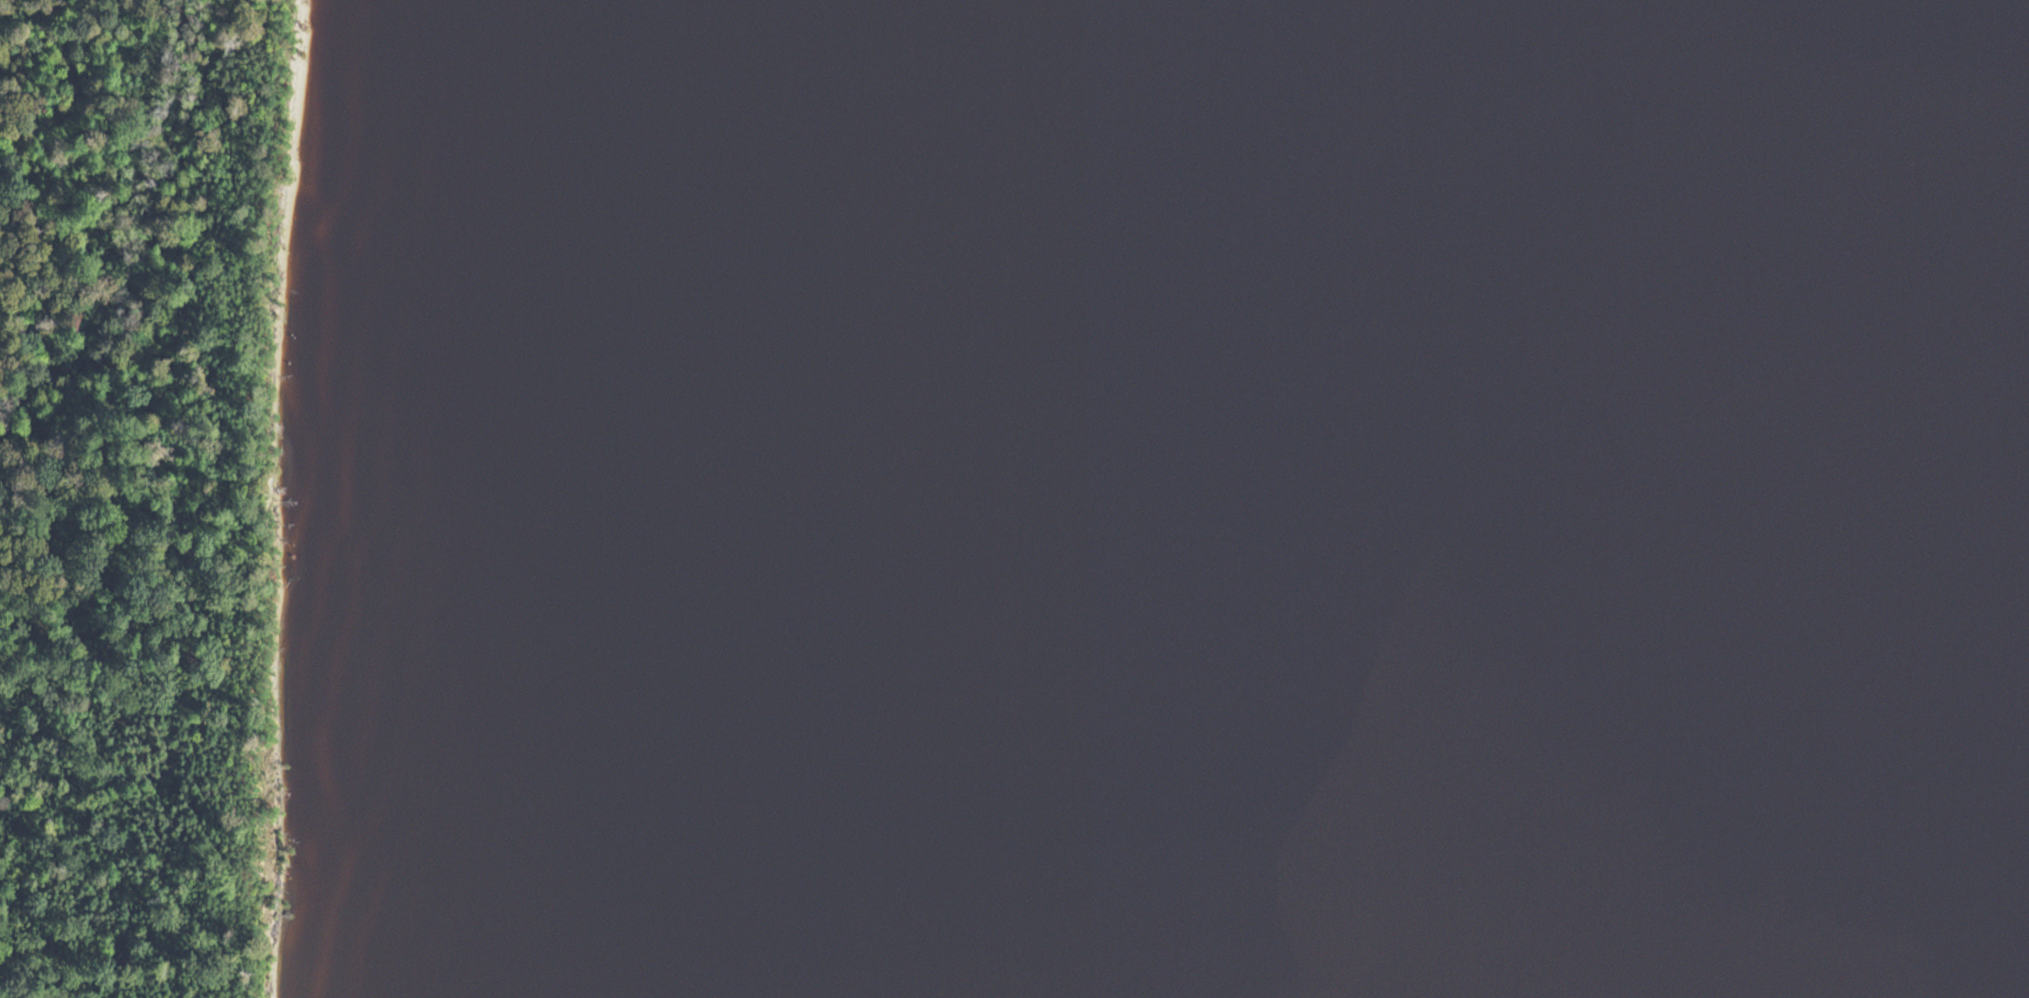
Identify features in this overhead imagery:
park: (258, 17)
park: (144, 499)

